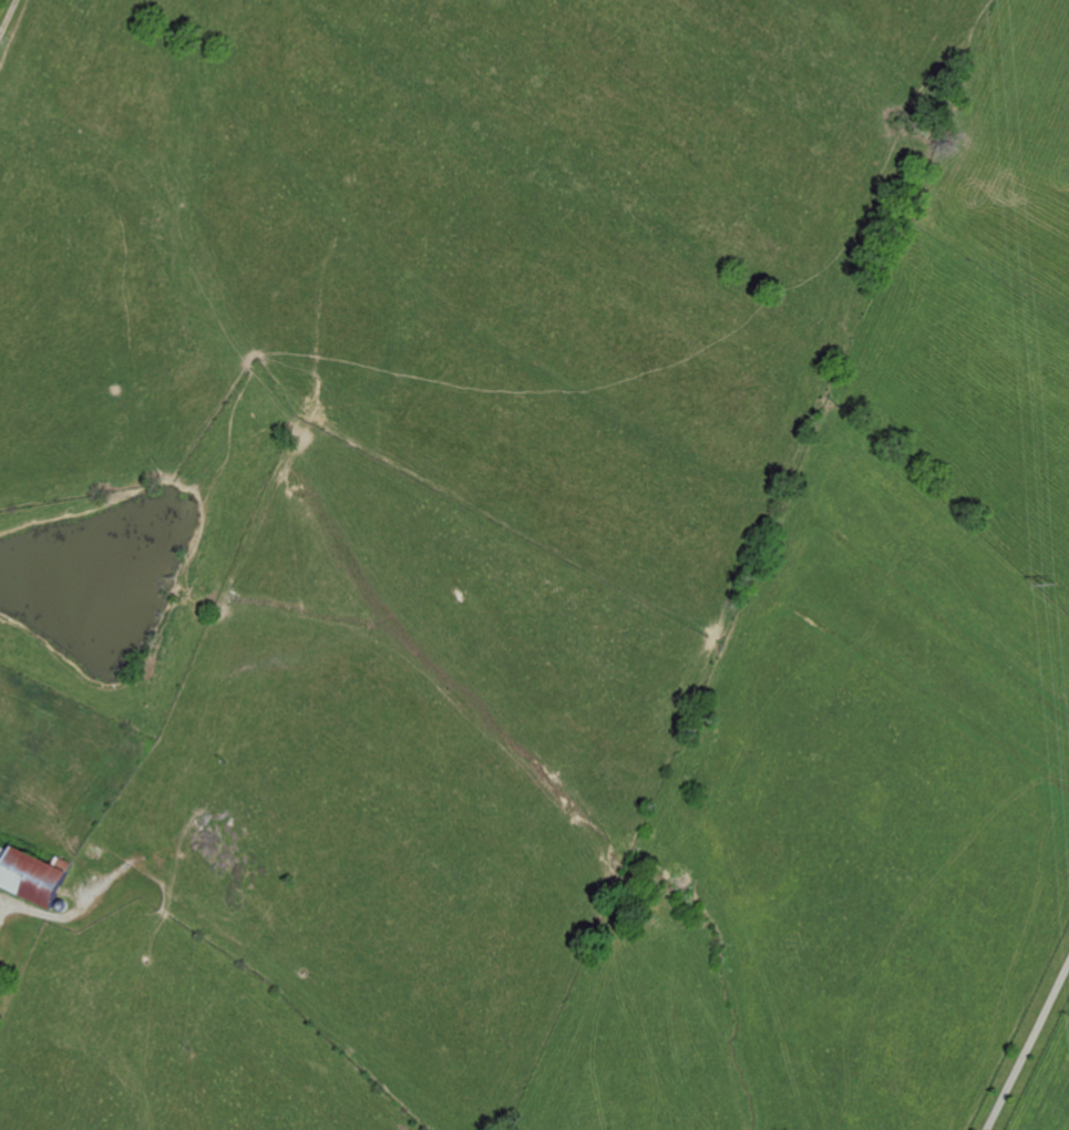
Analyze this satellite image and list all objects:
road: (1, 4)
building: (30, 877)
road: (1026, 1041)

